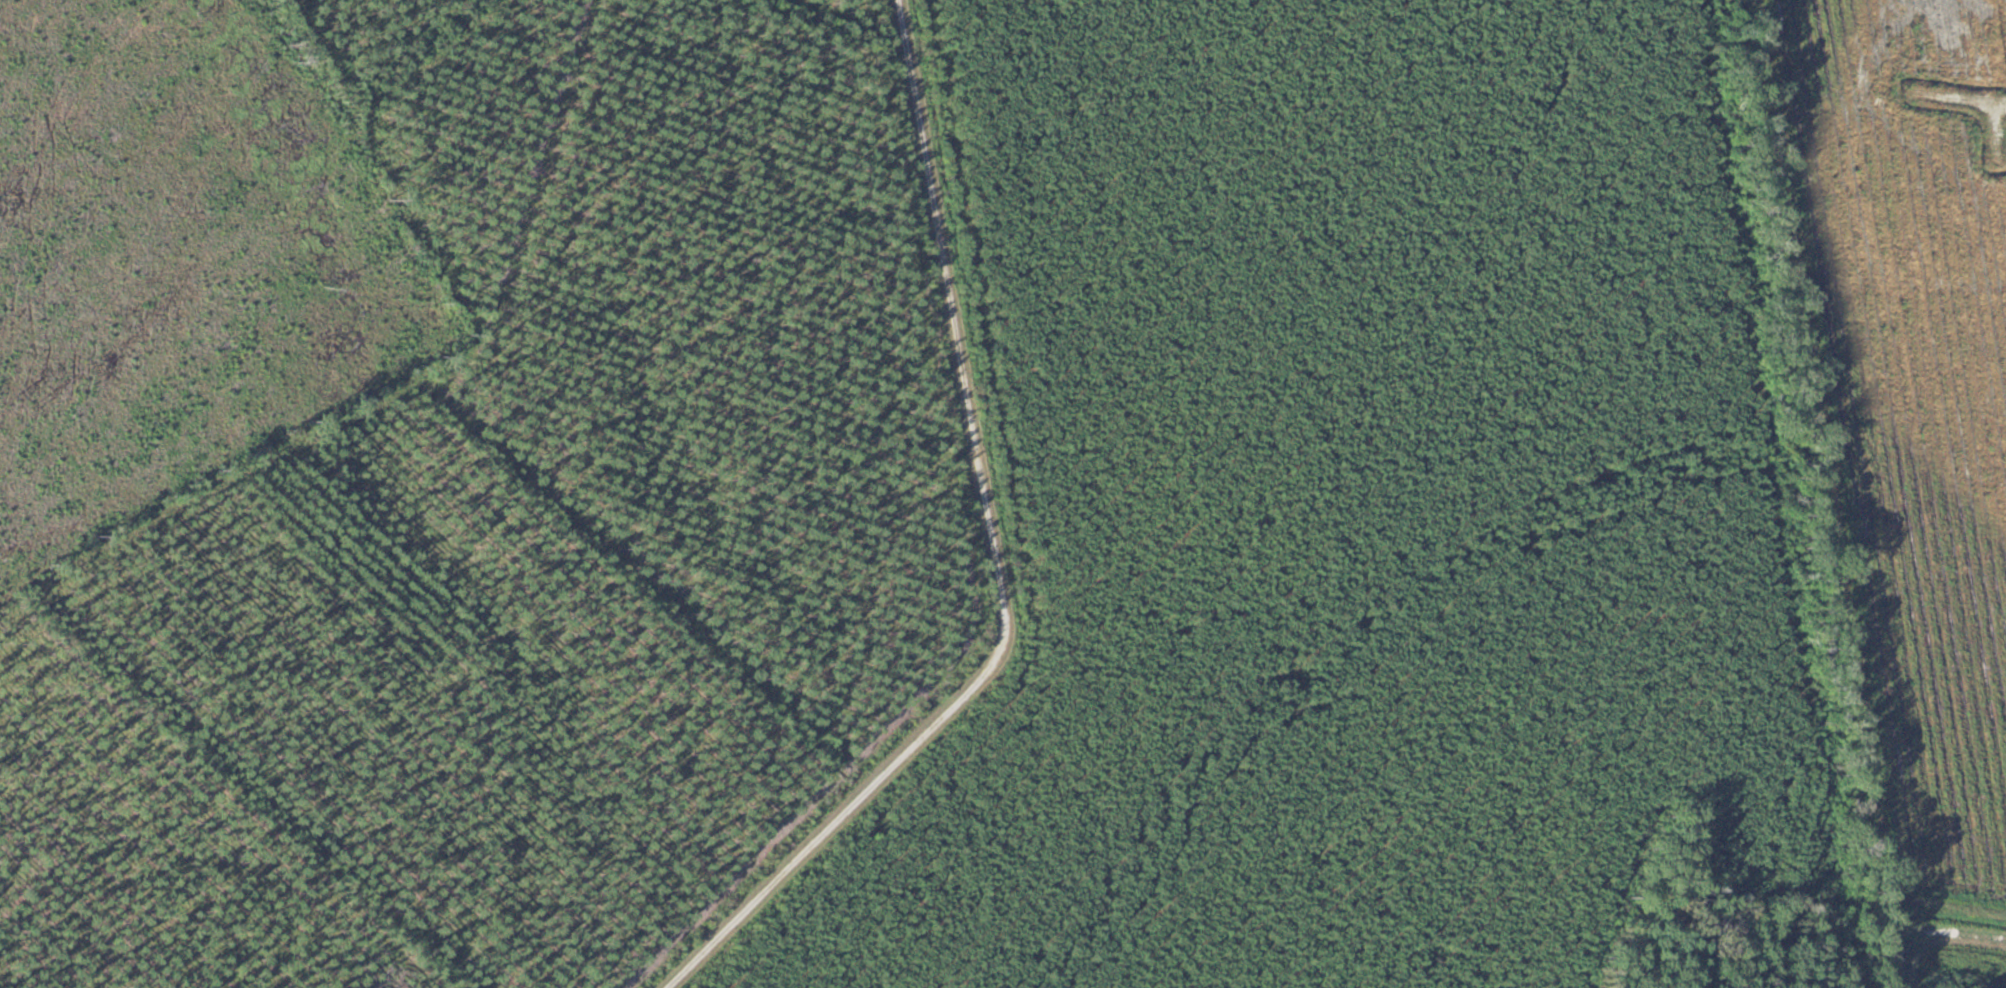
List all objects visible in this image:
road: (990, 556)

